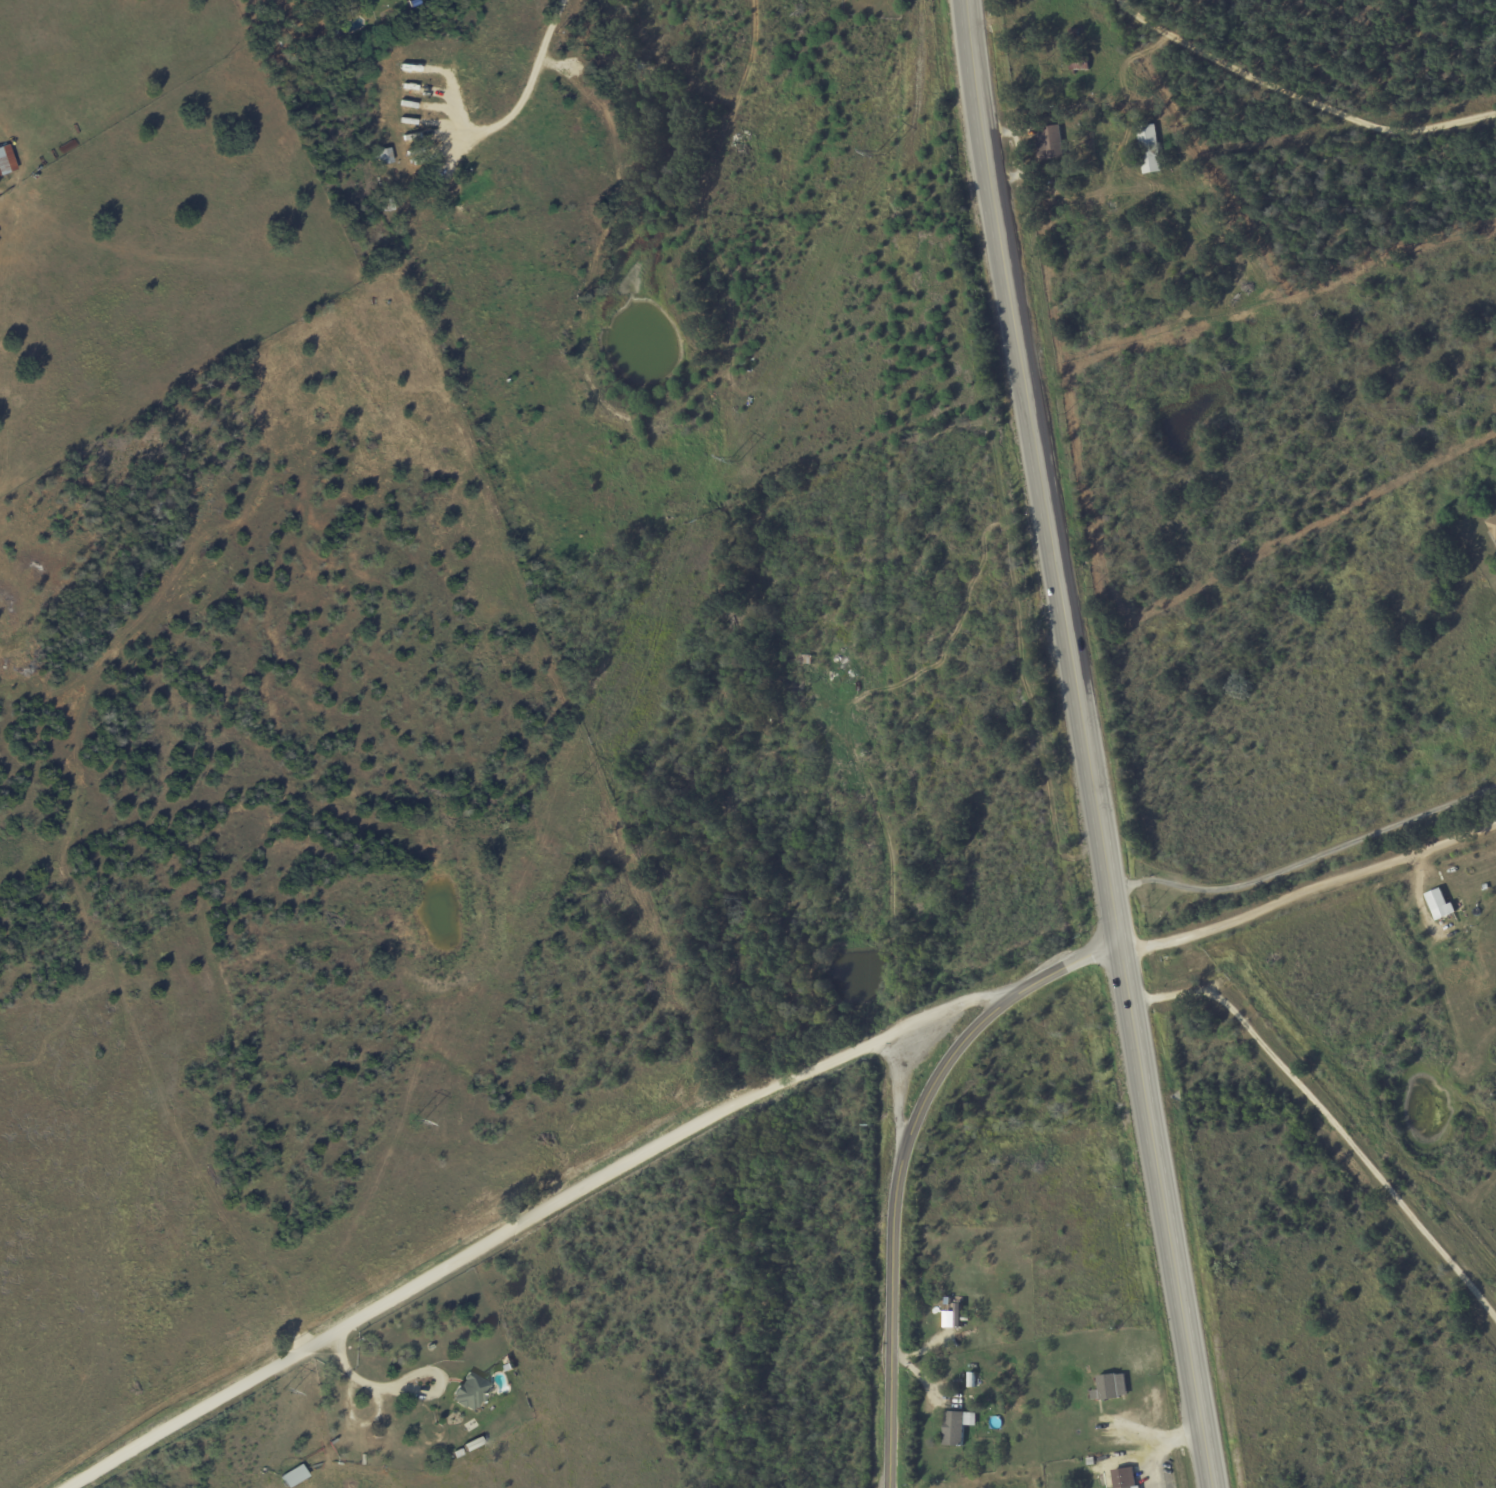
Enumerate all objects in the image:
building: (1078, 64)
road: (1299, 97)
road: (446, 101)
building: (1051, 141)
building: (1148, 149)
power tower: (878, 154)
building: (384, 155)
building: (6, 159)
road: (480, 236)
power tower: (731, 460)
building: (1493, 523)
road: (1085, 744)
power tower: (578, 780)
road: (1307, 862)
road: (1309, 890)
building: (1439, 904)
park: (198, 1077)
road: (901, 1099)
power tower: (411, 1127)
road: (1328, 1132)
road: (901, 1163)
road: (525, 1222)
building: (958, 1315)
road: (933, 1345)
road: (924, 1385)
building: (1110, 1387)
road: (403, 1391)
building: (470, 1391)
power tower: (284, 1392)
building: (956, 1427)
building: (294, 1475)
building: (1125, 1478)

